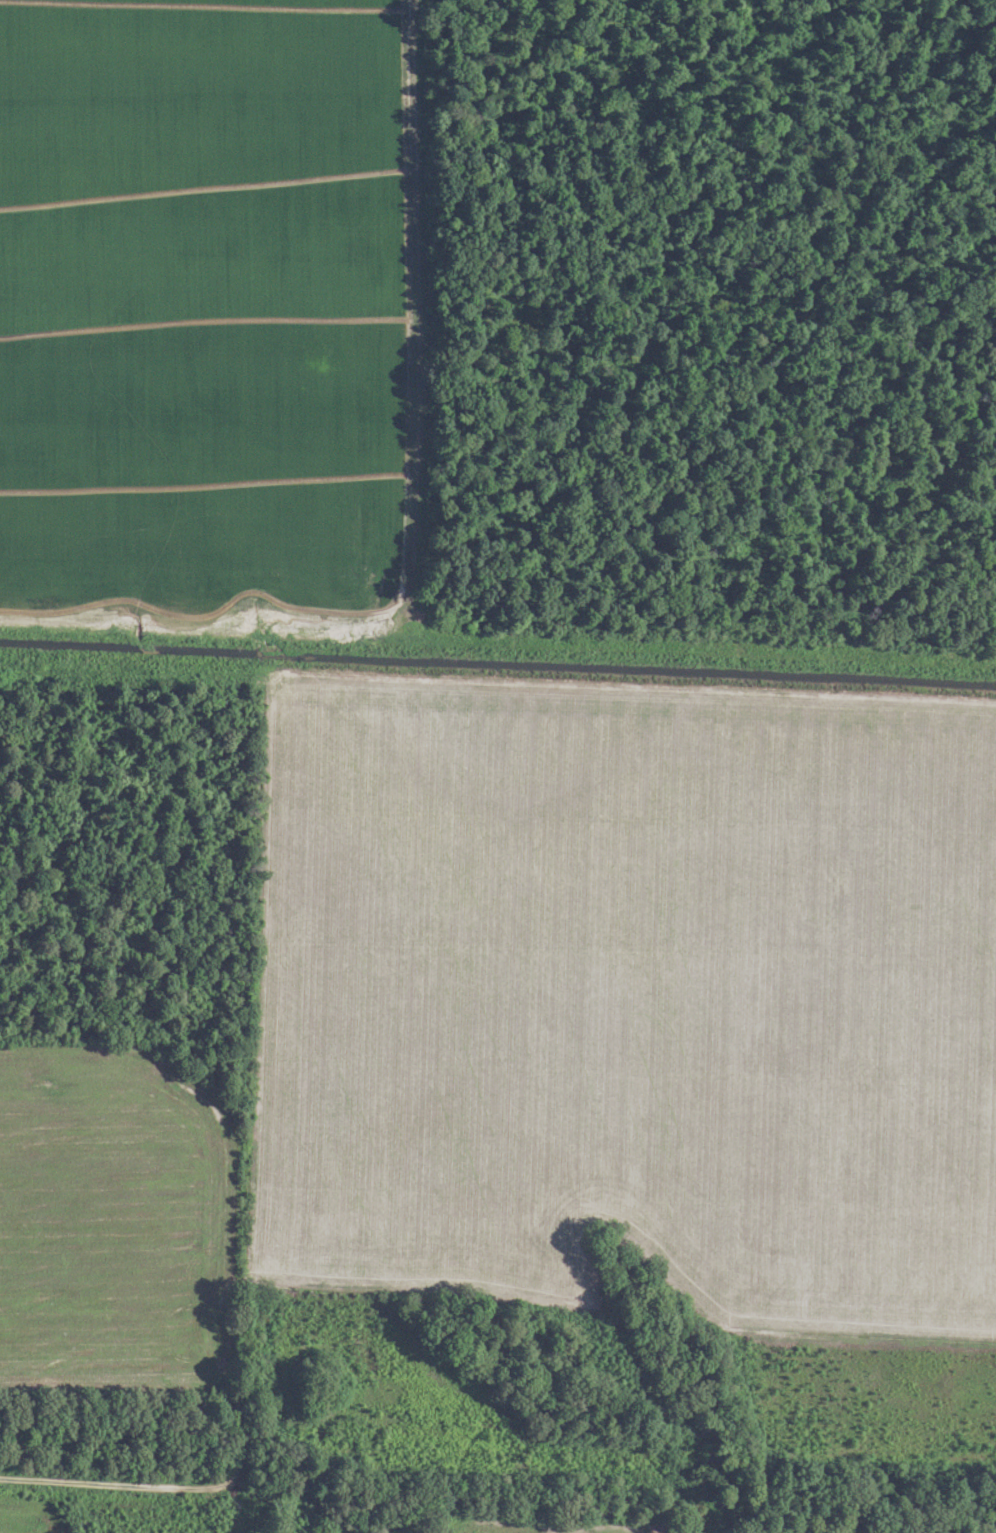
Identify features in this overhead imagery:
road: (129, 1486)

